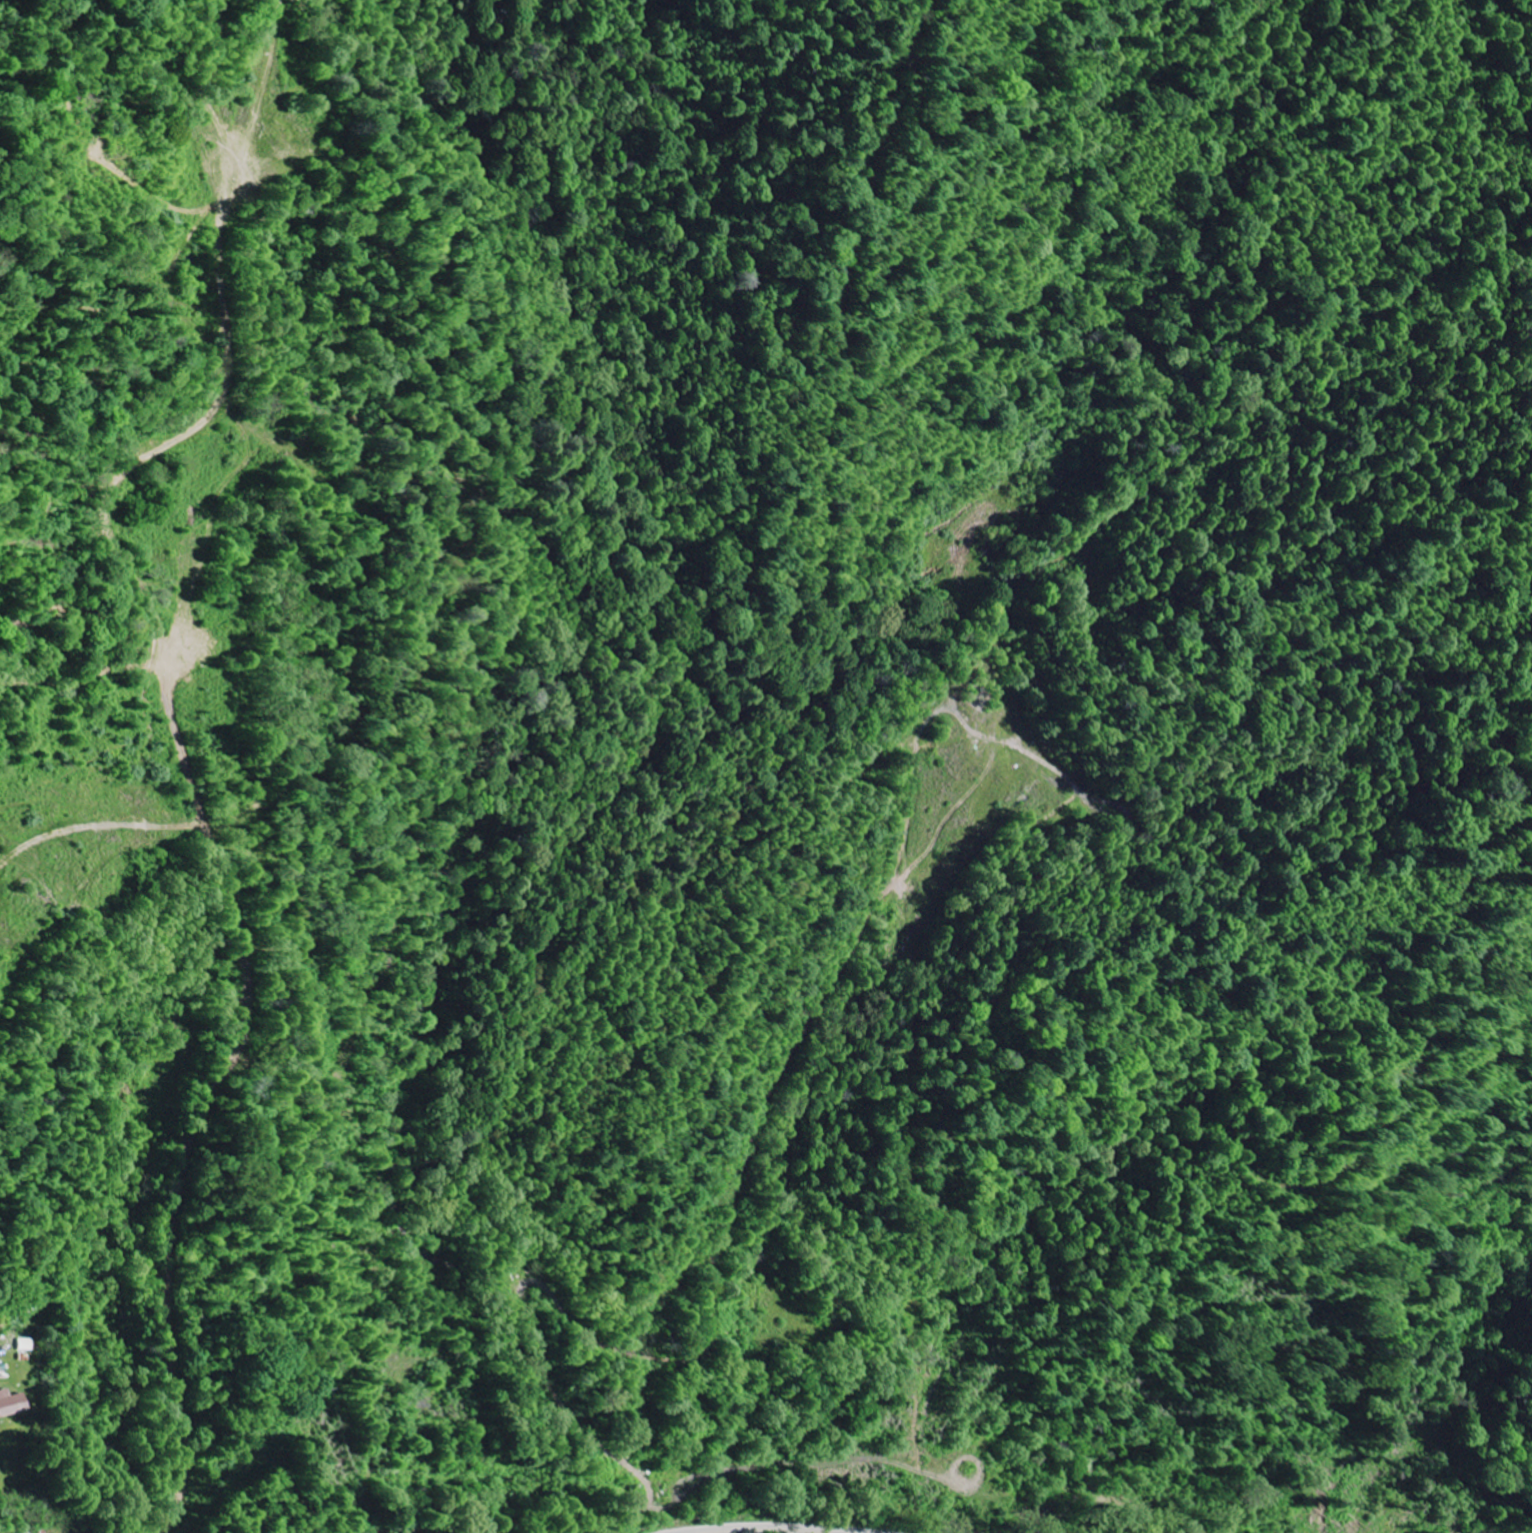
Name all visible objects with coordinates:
building: (21, 1344)
building: (9, 1403)
road: (769, 1530)

